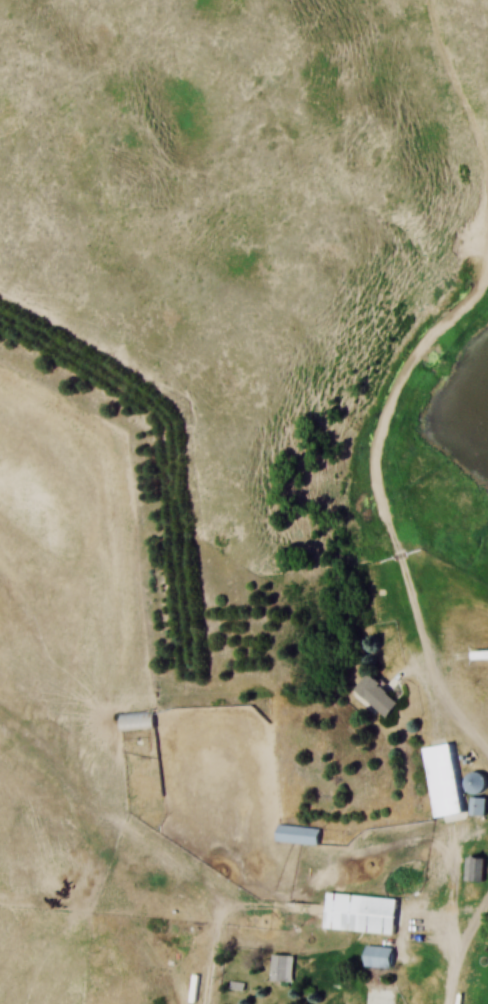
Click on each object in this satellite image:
road: (434, 677)
building: (376, 695)
building: (138, 721)
building: (444, 780)
building: (476, 783)
building: (478, 807)
building: (298, 835)
building: (361, 915)
road: (462, 955)
building: (379, 957)
building: (281, 969)

